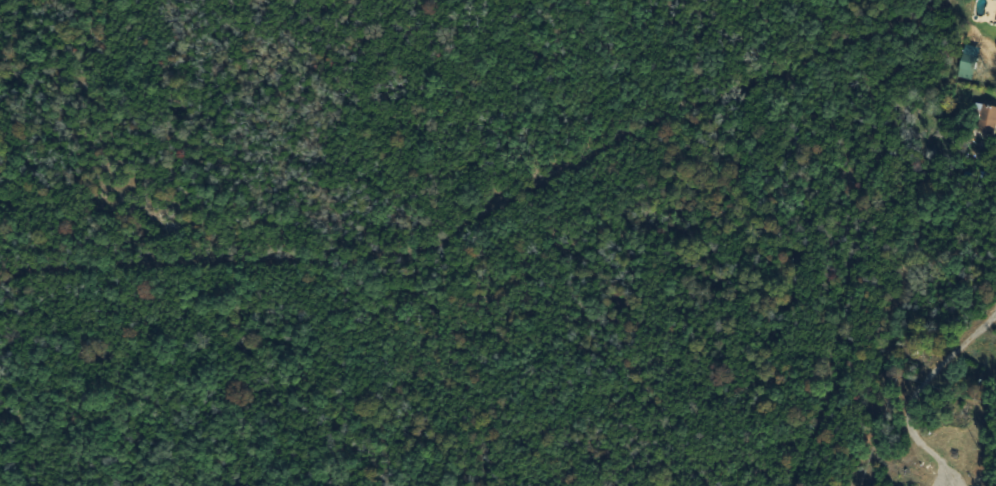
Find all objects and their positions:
building: (995, 0)
building: (987, 119)
park: (452, 237)

